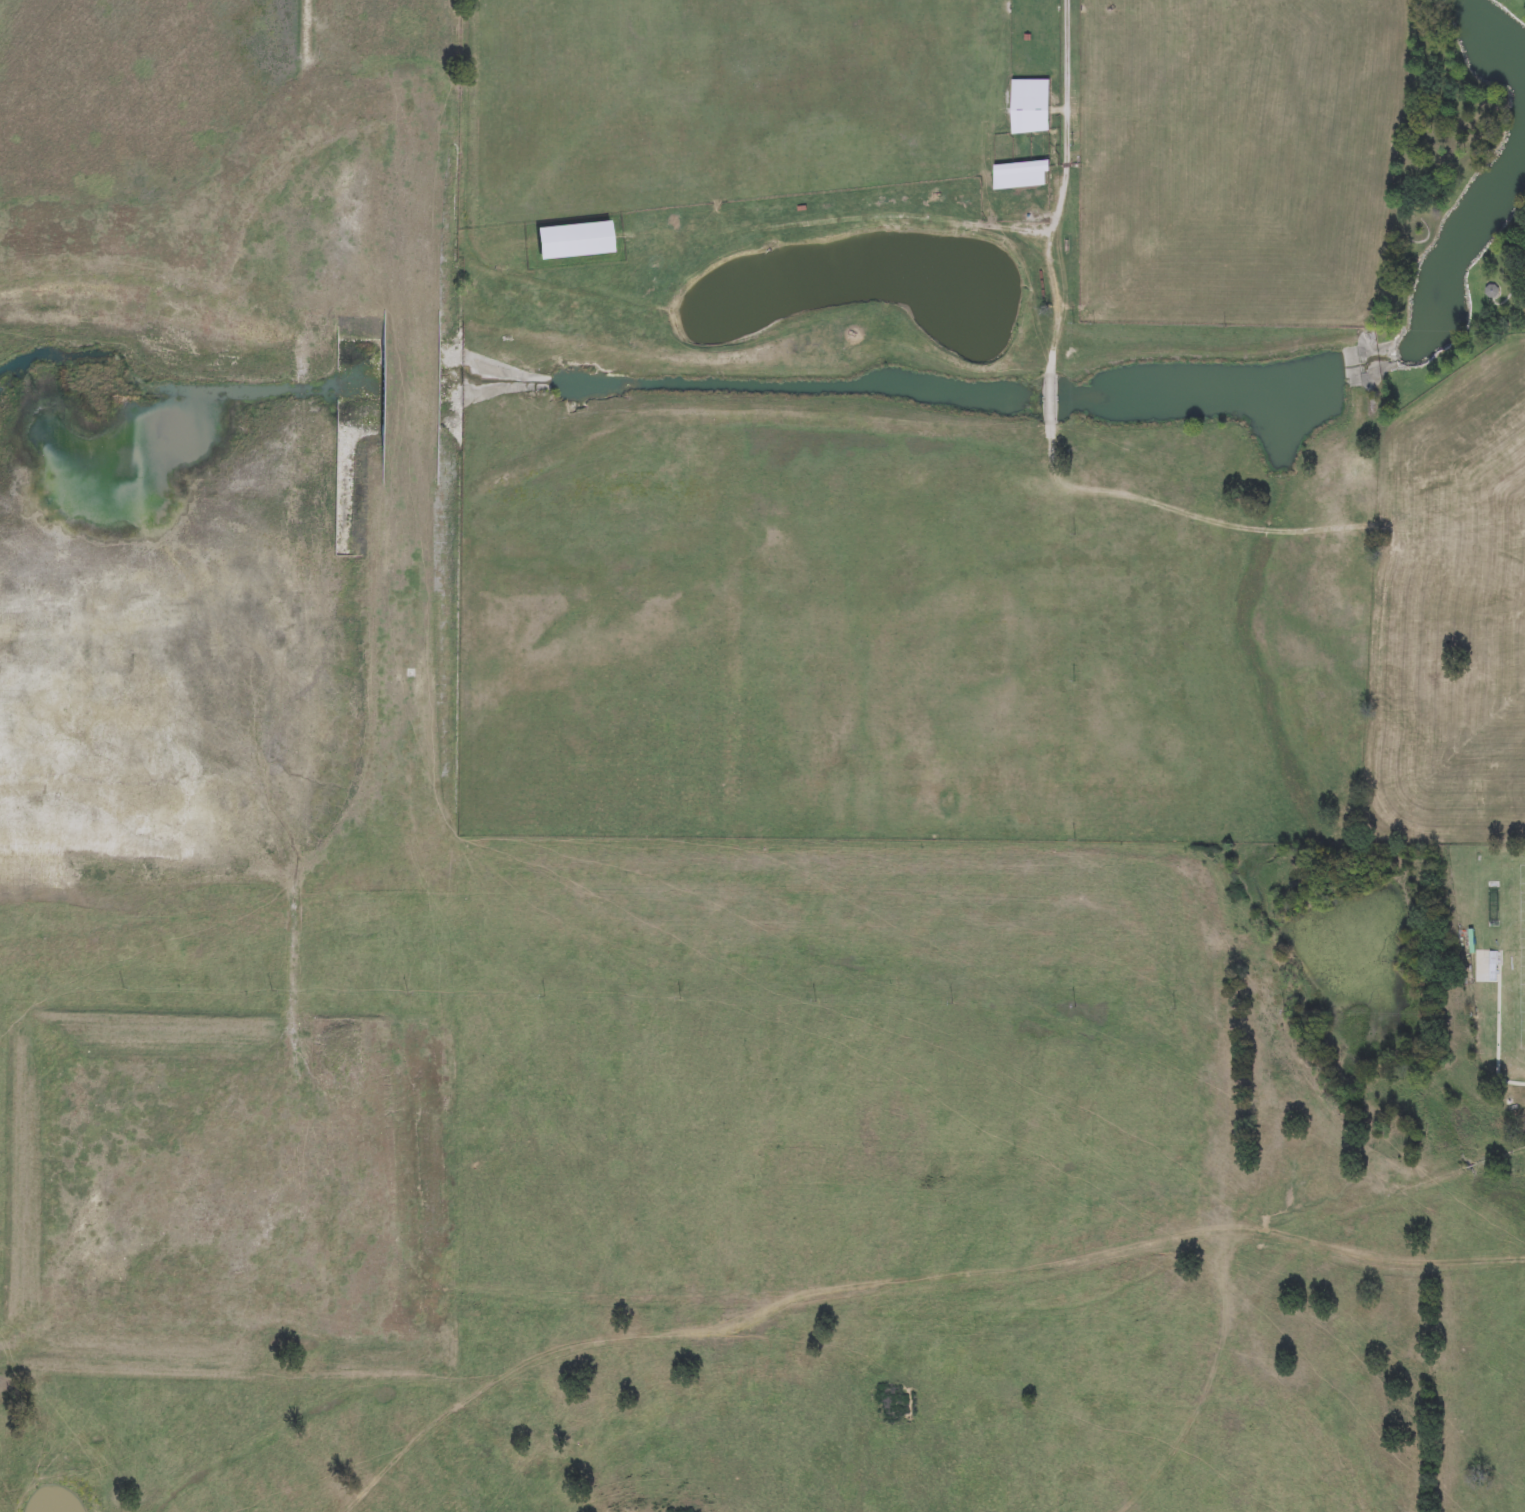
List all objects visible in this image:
building: (1029, 106)
building: (1018, 175)
road: (952, 229)
building: (564, 245)
park: (1522, 957)
road: (1496, 1031)

